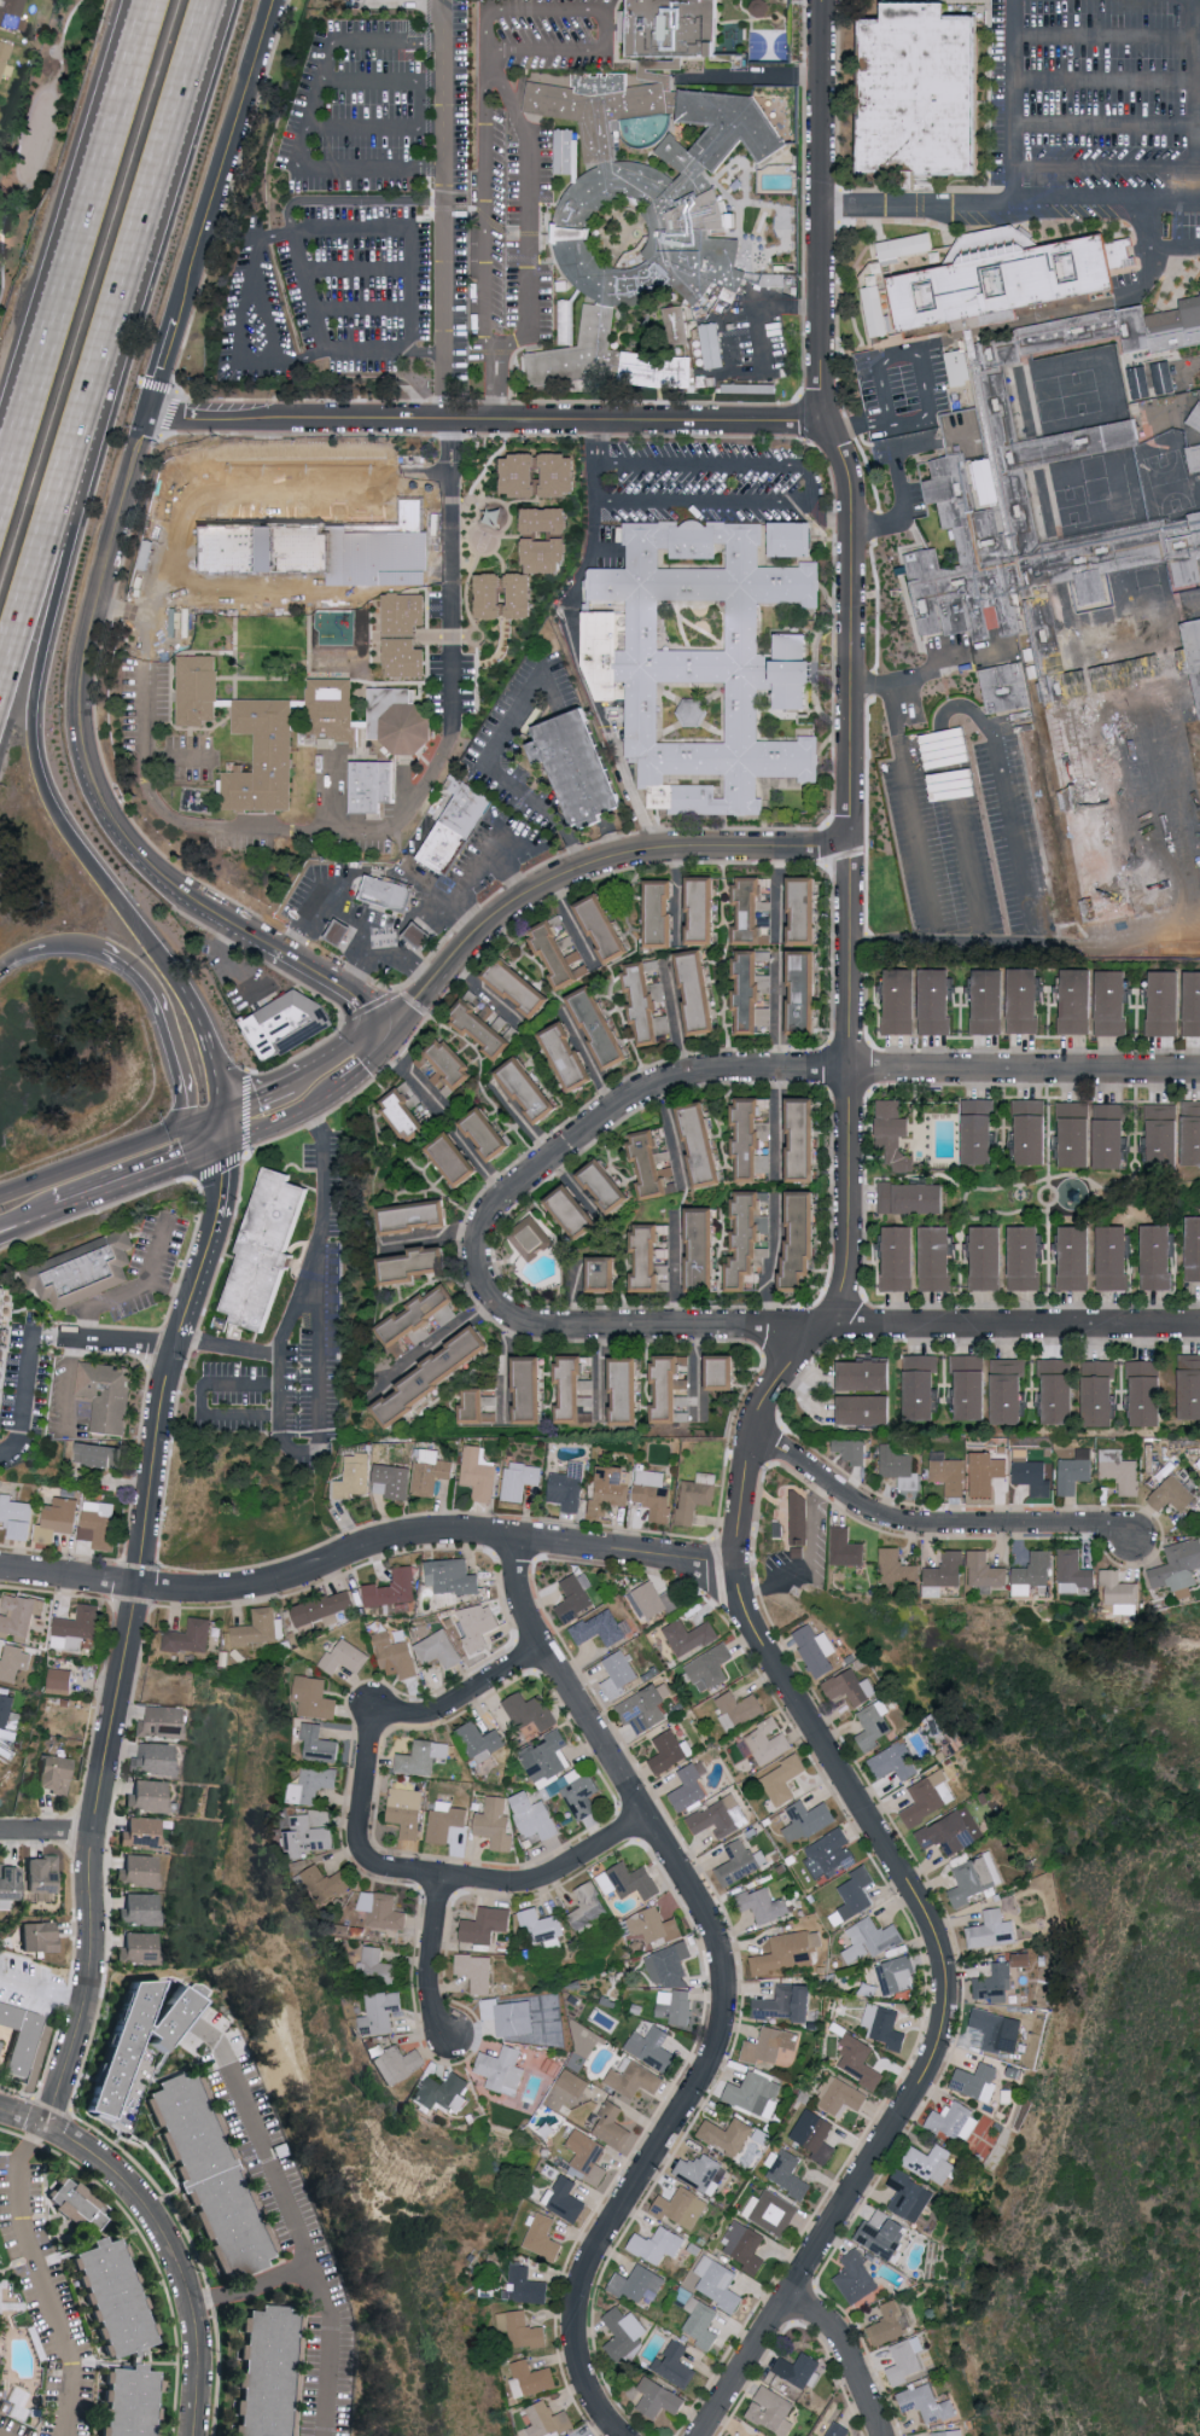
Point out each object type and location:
building: (11, 14)
building: (675, 27)
road: (1106, 35)
road: (130, 43)
road: (134, 43)
road: (600, 46)
road: (489, 53)
building: (5, 59)
road: (1106, 77)
road: (187, 80)
building: (916, 92)
road: (519, 97)
road: (1016, 99)
road: (1196, 100)
road: (314, 101)
parking lot: (357, 109)
road: (58, 123)
road: (420, 126)
road: (1106, 127)
road: (223, 158)
road: (1106, 165)
road: (1198, 174)
road: (1012, 198)
road: (353, 199)
building: (642, 199)
road: (485, 205)
road: (444, 208)
road: (530, 208)
road: (822, 210)
road: (410, 231)
road: (275, 234)
building: (907, 245)
road: (1151, 246)
road: (356, 268)
road: (60, 275)
building: (1012, 275)
road: (1144, 283)
parking lot: (328, 293)
road: (263, 300)
road: (362, 307)
road: (808, 307)
building: (878, 309)
road: (240, 331)
road: (320, 331)
building: (711, 344)
road: (427, 351)
road: (302, 357)
road: (876, 357)
road: (162, 365)
road: (716, 365)
building: (960, 367)
building: (1165, 377)
building: (1141, 382)
road: (497, 384)
road: (485, 417)
road: (81, 429)
building: (1195, 437)
building: (560, 473)
building: (522, 475)
road: (814, 484)
road: (903, 487)
building: (547, 519)
building: (268, 530)
building: (791, 539)
building: (205, 540)
building: (333, 543)
building: (547, 554)
building: (1015, 576)
road: (69, 582)
building: (1094, 586)
building: (522, 594)
building: (491, 595)
road: (121, 609)
building: (404, 611)
road: (851, 629)
road: (576, 643)
building: (406, 657)
building: (701, 661)
road: (936, 664)
road: (80, 672)
building: (1004, 686)
building: (198, 688)
road: (962, 704)
building: (333, 713)
building: (401, 720)
road: (181, 757)
building: (264, 757)
road: (487, 758)
building: (575, 773)
building: (373, 785)
road: (910, 793)
road: (188, 824)
building: (454, 833)
road: (494, 836)
road: (619, 859)
road: (418, 880)
road: (513, 880)
road: (328, 884)
road: (849, 893)
building: (388, 897)
building: (750, 909)
building: (704, 911)
building: (808, 911)
building: (662, 913)
road: (461, 917)
building: (607, 928)
road: (426, 930)
road: (360, 931)
building: (336, 938)
building: (415, 941)
road: (1024, 942)
road: (47, 946)
road: (268, 946)
building: (558, 955)
road: (229, 959)
road: (357, 966)
road: (418, 970)
building: (520, 987)
building: (752, 992)
building: (806, 992)
building: (699, 993)
building: (1024, 1000)
building: (1111, 1001)
building: (901, 1002)
building: (989, 1002)
building: (1074, 1002)
building: (1163, 1002)
building: (1190, 1002)
road: (413, 1005)
building: (646, 1005)
building: (937, 1005)
road: (368, 1008)
building: (286, 1023)
road: (167, 1028)
building: (601, 1028)
traffic signals: (394, 1029)
road: (206, 1043)
road: (349, 1051)
building: (571, 1057)
road: (373, 1060)
road: (791, 1072)
building: (531, 1091)
road: (256, 1098)
building: (406, 1111)
road: (280, 1117)
traffic signals: (208, 1123)
road: (775, 1124)
building: (980, 1129)
building: (1033, 1129)
building: (489, 1132)
building: (1077, 1132)
building: (1193, 1132)
road: (675, 1134)
building: (895, 1134)
building: (1112, 1134)
building: (1166, 1134)
road: (211, 1135)
building: (751, 1136)
building: (806, 1136)
building: (701, 1141)
traffic signals: (215, 1147)
building: (456, 1158)
road: (103, 1159)
road: (134, 1176)
building: (607, 1185)
building: (914, 1197)
building: (575, 1209)
building: (416, 1214)
road: (27, 1215)
road: (27, 1222)
building: (530, 1236)
building: (748, 1236)
building: (805, 1236)
building: (1193, 1246)
building: (703, 1248)
building: (270, 1249)
building: (902, 1256)
building: (938, 1256)
building: (990, 1256)
building: (1026, 1256)
building: (1114, 1256)
building: (1157, 1256)
building: (1077, 1257)
building: (649, 1258)
building: (415, 1262)
road: (773, 1262)
building: (606, 1272)
road: (676, 1272)
building: (86, 1273)
road: (302, 1279)
road: (138, 1286)
building: (416, 1312)
road: (827, 1326)
road: (439, 1338)
road: (117, 1339)
building: (5, 1345)
building: (726, 1370)
building: (437, 1371)
building: (868, 1373)
road: (27, 1384)
building: (973, 1384)
building: (1189, 1385)
building: (922, 1386)
building: (530, 1388)
building: (627, 1388)
building: (674, 1388)
building: (1061, 1388)
building: (1009, 1389)
building: (573, 1390)
building: (1148, 1390)
building: (1101, 1391)
building: (109, 1393)
road: (202, 1397)
road: (322, 1401)
building: (868, 1408)
building: (851, 1449)
building: (98, 1453)
building: (898, 1466)
building: (1122, 1469)
building: (431, 1470)
building: (948, 1471)
building: (985, 1471)
building: (1031, 1472)
building: (478, 1473)
building: (354, 1476)
building: (520, 1478)
building: (391, 1479)
building: (569, 1487)
building: (611, 1488)
building: (653, 1493)
building: (1172, 1493)
building: (695, 1495)
building: (60, 1513)
building: (18, 1516)
building: (799, 1517)
building: (98, 1522)
road: (930, 1527)
building: (846, 1547)
road: (366, 1550)
building: (1178, 1565)
building: (898, 1566)
building: (948, 1569)
building: (986, 1569)
building: (1035, 1571)
building: (1074, 1571)
building: (453, 1579)
building: (394, 1587)
building: (1122, 1591)
building: (576, 1595)
building: (656, 1600)
building: (324, 1606)
building: (19, 1615)
building: (479, 1624)
building: (76, 1627)
building: (257, 1627)
building: (602, 1628)
road: (126, 1635)
building: (190, 1635)
building: (689, 1635)
building: (439, 1647)
building: (816, 1649)
building: (395, 1655)
building: (344, 1656)
building: (16, 1662)
building: (710, 1667)
building: (618, 1673)
building: (59, 1680)
building: (850, 1686)
building: (0, 1687)
building: (315, 1697)
building: (646, 1707)
building: (739, 1708)
building: (8, 1710)
building: (531, 1710)
road: (804, 1716)
road: (404, 1717)
building: (163, 1720)
building: (873, 1723)
building: (764, 1742)
building: (320, 1743)
building: (483, 1743)
building: (670, 1751)
building: (423, 1756)
building: (157, 1758)
building: (895, 1761)
building: (57, 1773)
building: (560, 1773)
building: (784, 1779)
building: (314, 1784)
building: (689, 1787)
building: (148, 1795)
building: (928, 1797)
building: (406, 1807)
building: (534, 1815)
building: (720, 1815)
building: (445, 1819)
building: (808, 1819)
building: (495, 1822)
building: (142, 1830)
building: (953, 1831)
building: (311, 1832)
road: (46, 1836)
building: (829, 1853)
building: (740, 1861)
building: (140, 1870)
building: (986, 1871)
building: (43, 1873)
building: (630, 1880)
building: (10, 1883)
road: (502, 1883)
building: (325, 1884)
building: (965, 1884)
building: (854, 1895)
building: (765, 1903)
building: (590, 1906)
building: (141, 1908)
building: (383, 1908)
building: (487, 1924)
building: (656, 1924)
building: (540, 1929)
building: (994, 1930)
building: (40, 1935)
building: (870, 1938)
building: (140, 1947)
building: (785, 1952)
road: (433, 1957)
building: (1023, 1958)
building: (377, 1964)
building: (670, 1964)
building: (478, 1970)
building: (896, 1973)
building: (995, 1983)
road: (724, 1986)
road: (42, 1989)
building: (787, 2002)
building: (676, 2006)
building: (381, 2011)
building: (508, 2016)
building: (885, 2025)
building: (998, 2029)
building: (23, 2035)
building: (146, 2036)
building: (0, 2045)
building: (652, 2046)
building: (860, 2060)
building: (398, 2063)
building: (502, 2069)
building: (635, 2077)
building: (977, 2081)
building: (569, 2087)
building: (443, 2092)
building: (755, 2093)
building: (840, 2095)
building: (955, 2121)
building: (727, 2134)
building: (815, 2134)
building: (586, 2152)
building: (932, 2162)
building: (703, 2172)
building: (787, 2172)
building: (214, 2175)
building: (910, 2196)
road: (282, 2197)
building: (566, 2198)
building: (80, 2200)
building: (683, 2208)
building: (771, 2210)
road: (163, 2233)
building: (884, 2233)
building: (543, 2237)
building: (658, 2244)
building: (745, 2246)
building: (857, 2277)
road: (39, 2278)
building: (639, 2283)
building: (720, 2283)
building: (529, 2285)
building: (118, 2297)
building: (701, 2322)
building: (889, 2324)
building: (523, 2329)
building: (625, 2333)
road: (327, 2347)
road: (846, 2356)
building: (907, 2359)
building: (676, 2364)
building: (798, 2367)
building: (272, 2372)
building: (531, 2377)
building: (659, 2397)
building: (134, 2401)
building: (926, 2401)
building: (773, 2409)
building: (548, 2419)
building: (838, 2429)
building: (583, 2431)
building: (948, 2432)
road: (1, 2435)
building: (759, 2435)

